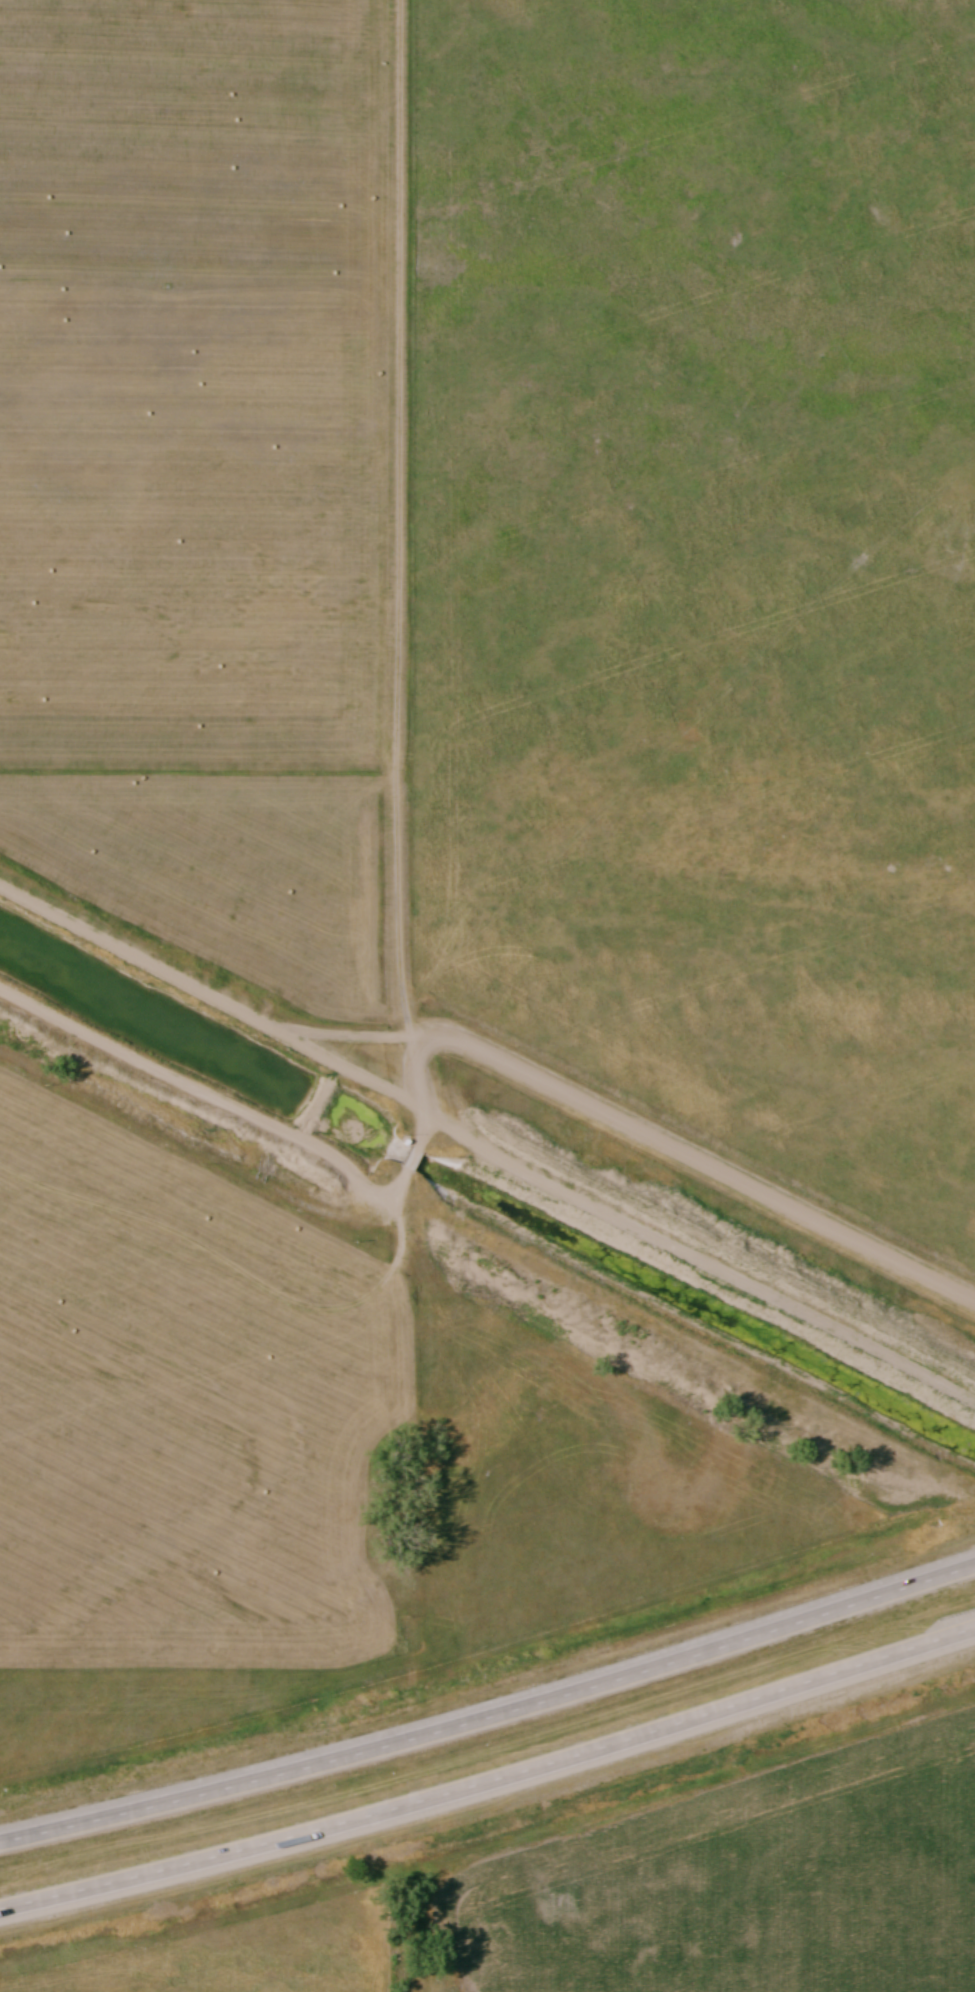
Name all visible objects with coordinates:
road: (196, 991)
road: (411, 1092)
road: (206, 1096)
road: (694, 1158)
road: (413, 1160)
road: (623, 1224)
road: (491, 1715)
road: (491, 1782)

